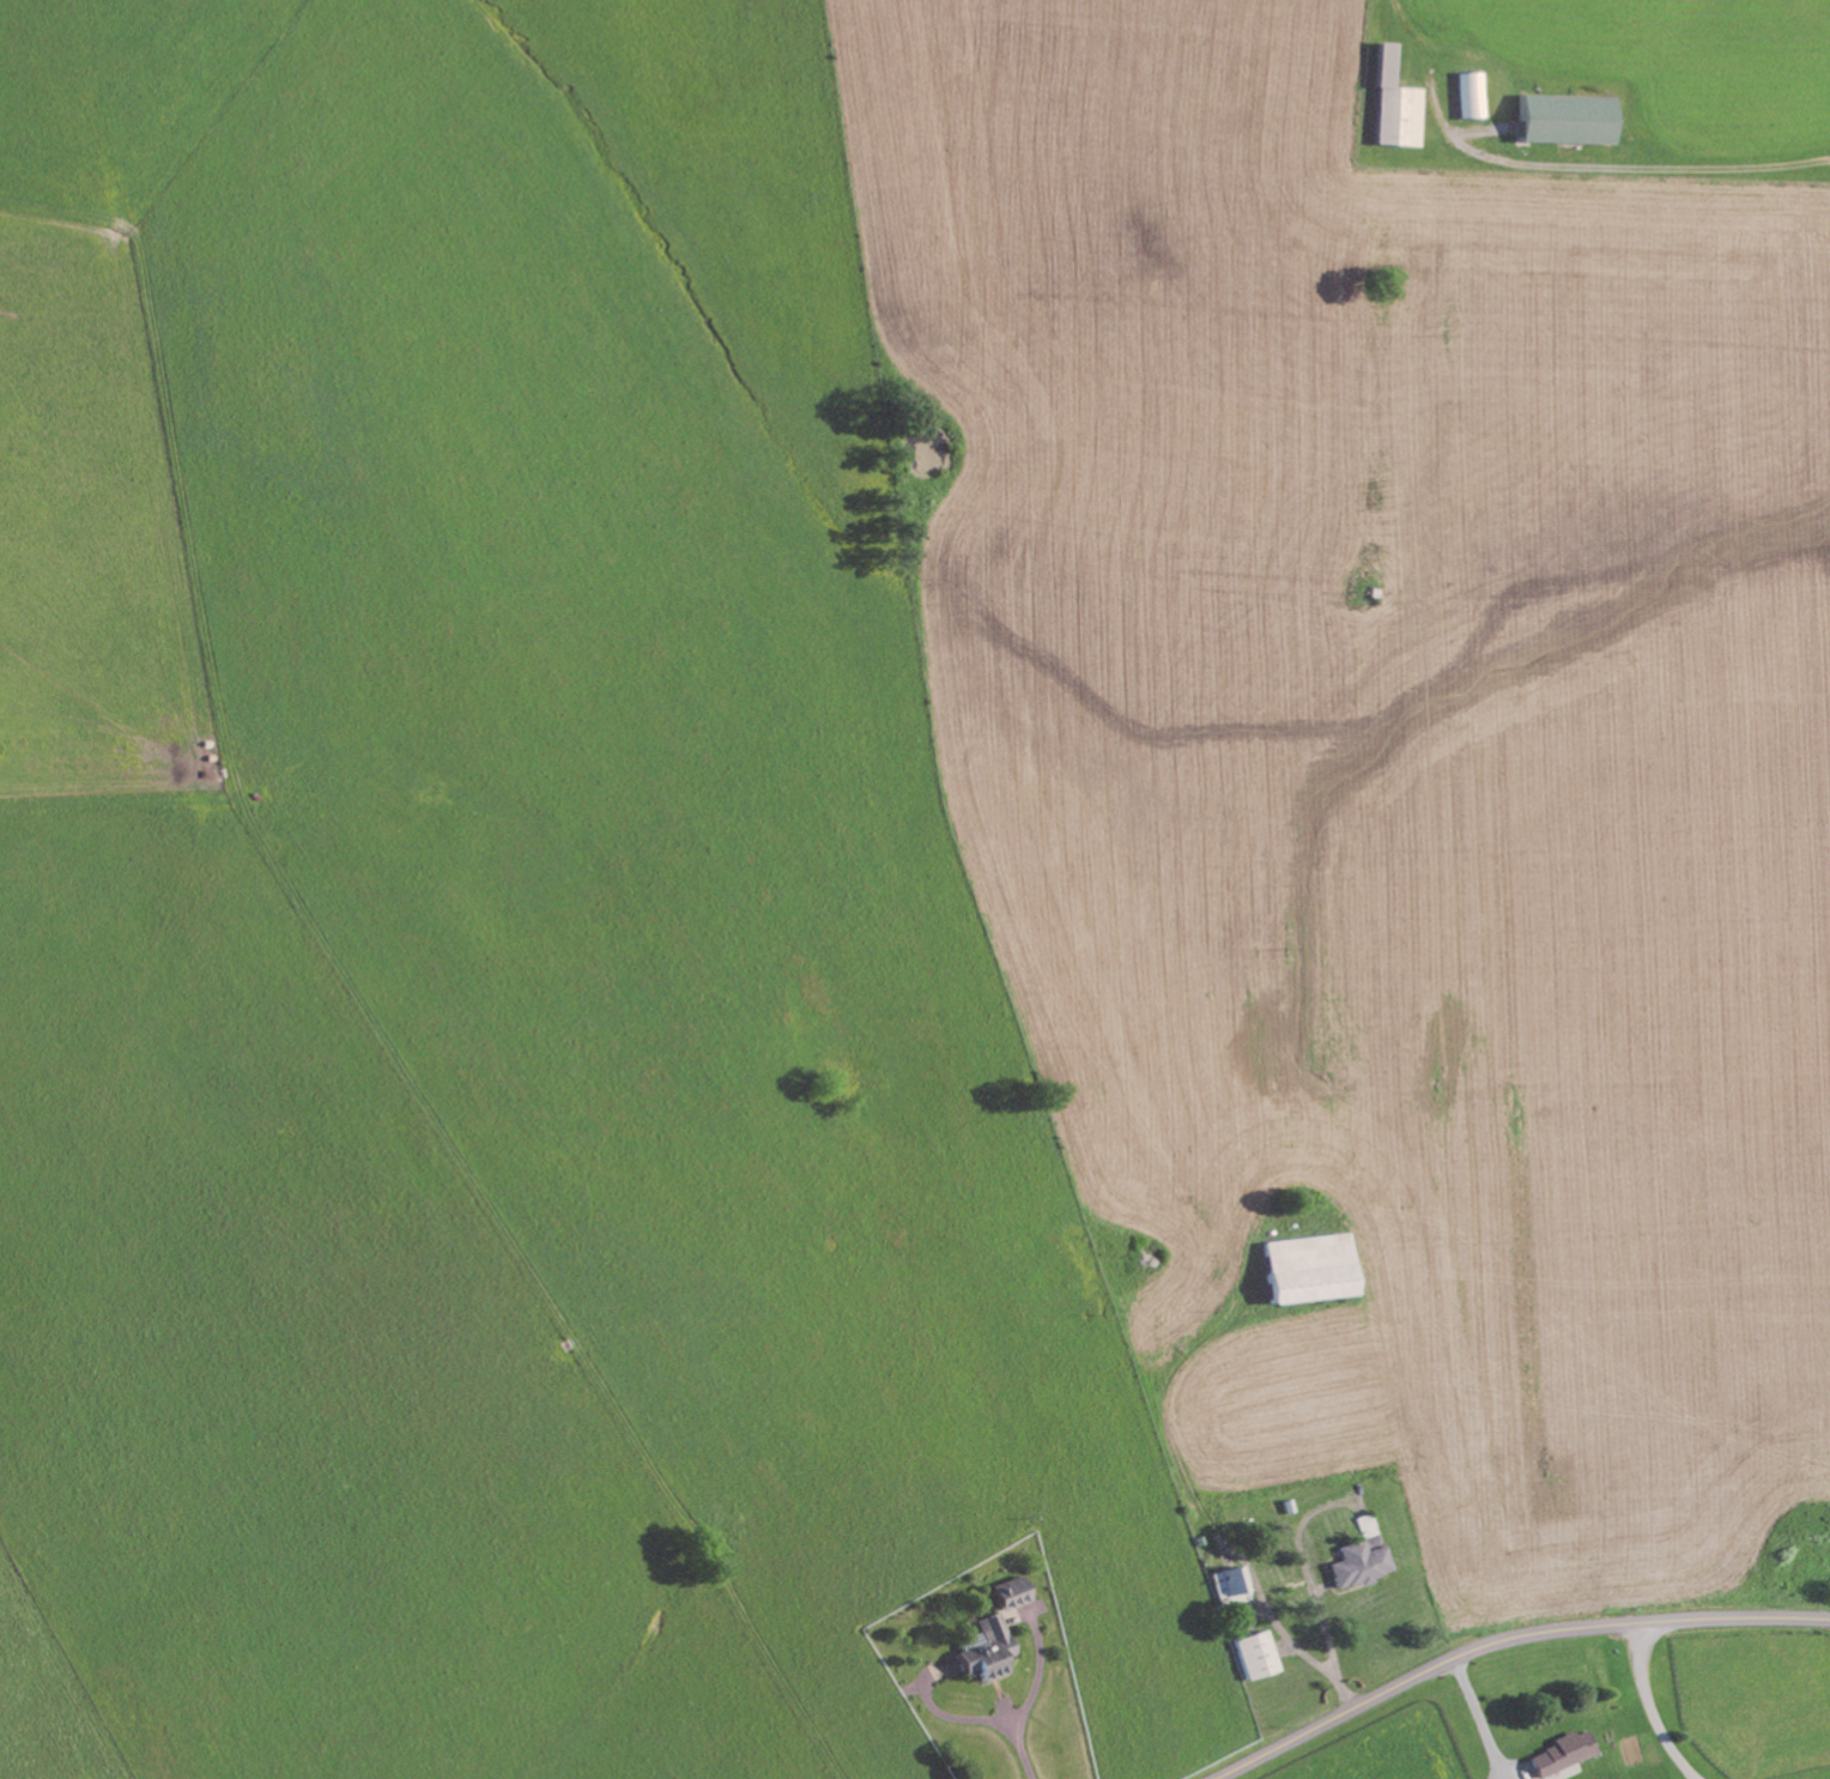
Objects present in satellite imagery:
building: (1398, 108)
building: (1569, 121)
road: (1648, 169)
building: (1311, 1270)
building: (1361, 1557)
building: (1230, 1587)
building: (1011, 1595)
road: (1504, 1636)
building: (986, 1651)
building: (1255, 1657)
road: (1650, 1705)
road: (1479, 1717)
building: (1563, 1755)
building: (1567, 1773)

